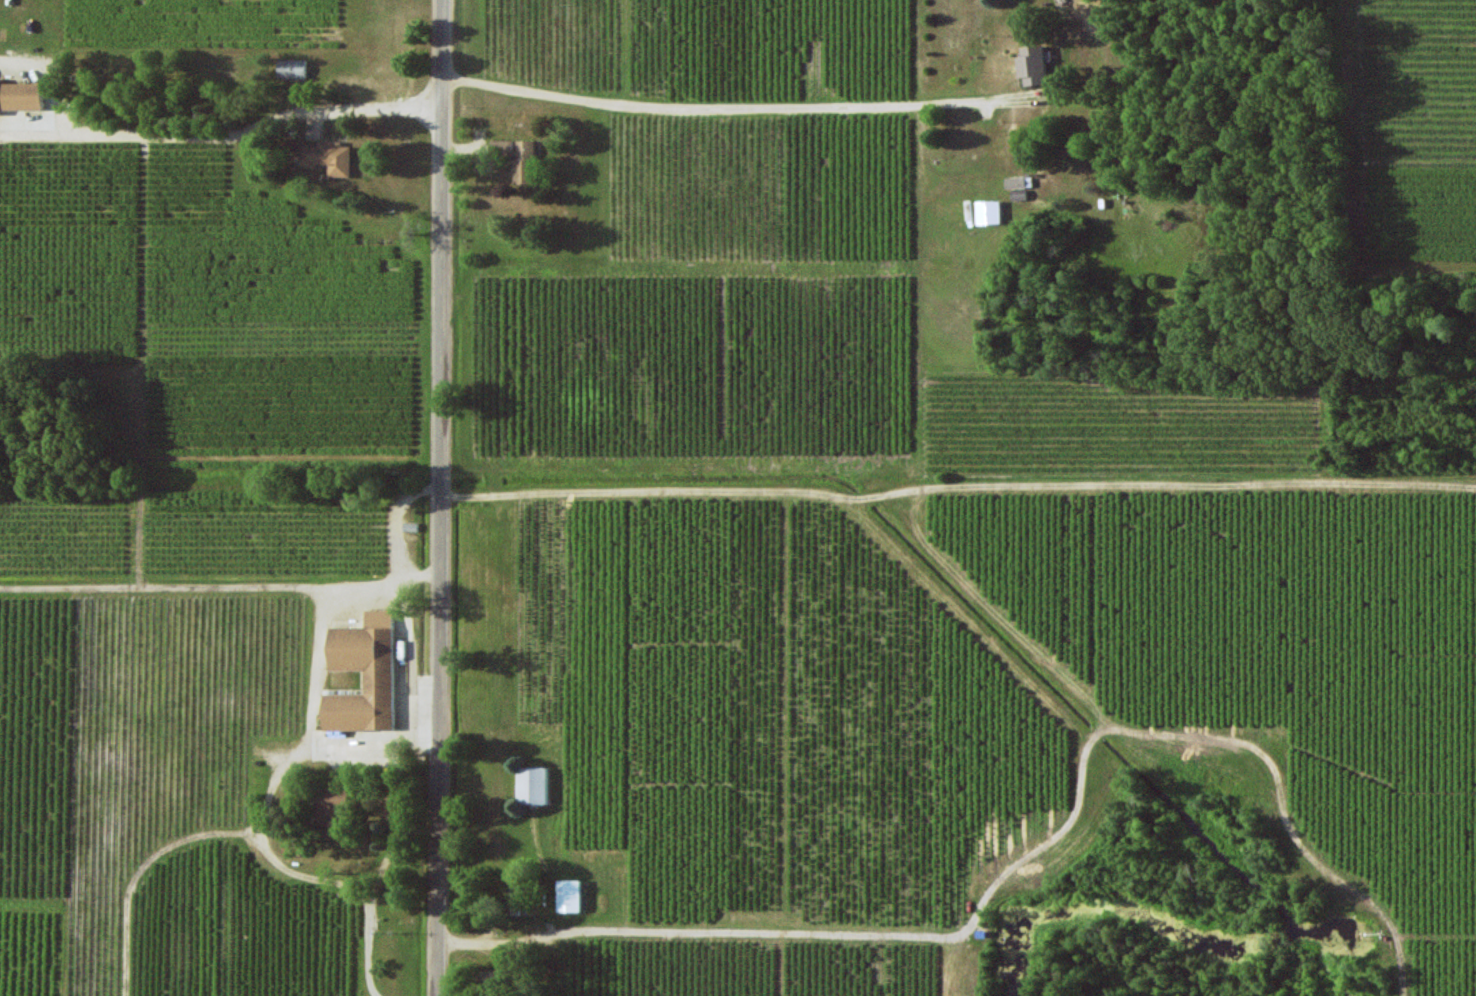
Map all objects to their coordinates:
building: (1033, 65)
building: (291, 68)
building: (19, 95)
building: (503, 147)
building: (329, 157)
building: (523, 162)
building: (988, 212)
road: (1172, 480)
road: (647, 486)
road: (860, 494)
road: (441, 497)
building: (359, 648)
road: (1099, 732)
building: (532, 785)
building: (330, 805)
road: (1290, 809)
building: (569, 896)
road: (823, 930)

